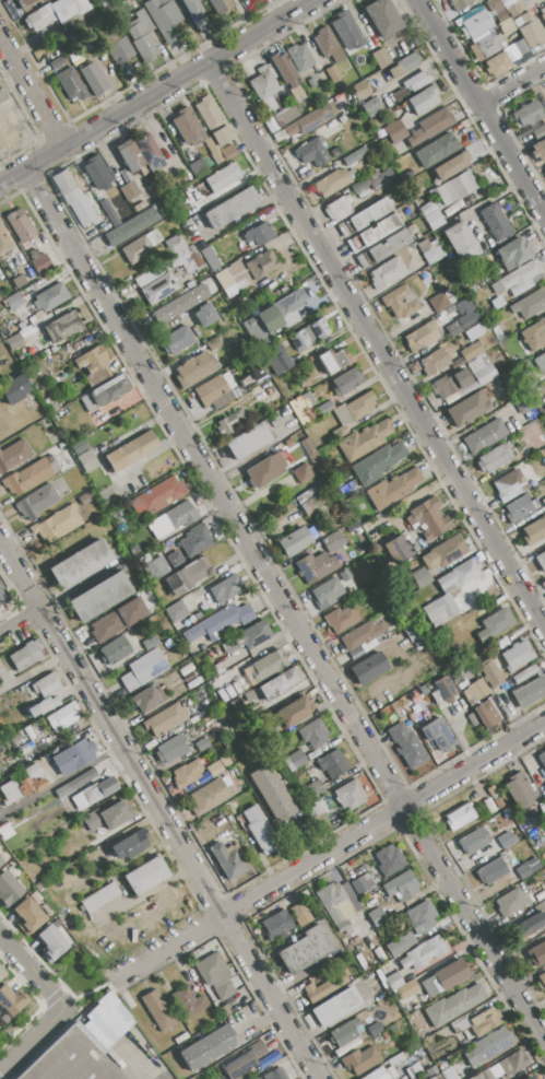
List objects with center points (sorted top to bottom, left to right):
building: (242, 0)
building: (487, 0)
building: (26, 3)
building: (459, 4)
building: (221, 5)
building: (494, 5)
building: (191, 8)
building: (513, 10)
building: (543, 13)
building: (48, 14)
building: (164, 17)
building: (382, 17)
building: (474, 23)
building: (506, 26)
building: (346, 31)
building: (530, 33)
building: (140, 34)
building: (328, 45)
building: (489, 45)
building: (520, 47)
building: (392, 50)
building: (120, 54)
building: (299, 57)
building: (381, 58)
building: (57, 62)
building: (498, 63)
building: (404, 64)
building: (284, 69)
building: (93, 79)
building: (417, 81)
building: (71, 84)
road: (513, 87)
building: (263, 89)
building: (360, 90)
road: (33, 92)
building: (297, 93)
road: (157, 94)
building: (399, 95)
building: (420, 101)
road: (482, 106)
building: (372, 107)
building: (528, 114)
building: (286, 116)
building: (309, 120)
building: (436, 121)
building: (187, 127)
building: (215, 131)
building: (395, 131)
building: (5, 132)
building: (523, 132)
building: (538, 133)
building: (415, 137)
building: (436, 150)
building: (538, 150)
building: (312, 152)
building: (140, 154)
building: (351, 159)
building: (451, 165)
building: (544, 169)
building: (97, 174)
building: (223, 177)
building: (332, 183)
building: (376, 184)
building: (359, 186)
building: (455, 187)
building: (132, 196)
building: (73, 198)
building: (230, 208)
building: (339, 208)
building: (428, 209)
building: (451, 209)
building: (109, 212)
building: (364, 216)
building: (435, 220)
building: (495, 222)
building: (21, 224)
building: (131, 226)
building: (412, 230)
building: (372, 233)
building: (257, 235)
building: (4, 242)
building: (461, 243)
building: (175, 244)
building: (140, 247)
building: (382, 248)
building: (414, 250)
building: (513, 253)
building: (433, 255)
building: (209, 258)
building: (40, 263)
building: (261, 265)
building: (386, 272)
building: (521, 278)
building: (233, 279)
building: (20, 281)
building: (141, 281)
building: (158, 289)
building: (50, 297)
building: (13, 301)
building: (399, 302)
building: (439, 303)
building: (180, 304)
building: (530, 304)
building: (281, 313)
building: (204, 315)
building: (469, 318)
building: (453, 329)
building: (56, 330)
building: (253, 330)
building: (471, 332)
building: (309, 335)
building: (534, 336)
building: (420, 337)
building: (176, 340)
building: (15, 341)
building: (213, 344)
road: (377, 348)
building: (474, 350)
building: (92, 359)
building: (333, 360)
building: (434, 361)
building: (282, 362)
building: (457, 363)
building: (541, 363)
building: (194, 370)
building: (254, 370)
building: (482, 372)
building: (303, 382)
building: (346, 382)
building: (449, 383)
building: (13, 389)
building: (214, 389)
building: (106, 391)
building: (524, 404)
building: (470, 407)
building: (303, 408)
building: (325, 408)
building: (354, 409)
building: (228, 424)
building: (339, 432)
building: (484, 436)
building: (365, 439)
building: (248, 441)
building: (138, 447)
road: (254, 450)
building: (13, 455)
building: (494, 458)
building: (86, 461)
building: (378, 464)
building: (264, 470)
building: (303, 473)
building: (28, 477)
building: (509, 485)
building: (392, 489)
building: (158, 496)
building: (84, 497)
building: (36, 502)
building: (543, 502)
building: (312, 506)
building: (520, 508)
building: (173, 518)
building: (428, 519)
building: (57, 524)
building: (126, 528)
building: (534, 531)
building: (196, 541)
building: (295, 541)
building: (333, 541)
building: (396, 549)
building: (443, 553)
building: (174, 558)
building: (541, 561)
building: (80, 563)
building: (156, 566)
building: (316, 567)
building: (459, 574)
building: (188, 576)
building: (422, 577)
building: (543, 583)
building: (227, 589)
building: (327, 593)
building: (3, 595)
building: (100, 597)
road: (285, 607)
building: (440, 609)
building: (131, 611)
building: (177, 611)
building: (341, 618)
building: (218, 622)
road: (21, 623)
building: (494, 623)
building: (105, 629)
building: (412, 633)
building: (254, 634)
building: (364, 634)
building: (150, 642)
building: (116, 650)
building: (26, 655)
building: (517, 655)
building: (268, 662)
building: (368, 668)
building: (143, 669)
building: (489, 673)
building: (525, 673)
building: (280, 682)
building: (46, 685)
building: (475, 689)
building: (442, 690)
building: (529, 692)
building: (146, 700)
building: (295, 712)
building: (482, 715)
building: (62, 717)
building: (165, 719)
building: (313, 734)
building: (438, 735)
building: (201, 744)
building: (406, 744)
building: (170, 748)
building: (29, 754)
road: (355, 754)
building: (72, 757)
building: (542, 758)
building: (297, 759)
building: (225, 760)
building: (333, 763)
building: (214, 769)
building: (33, 771)
building: (187, 773)
road: (66, 779)
building: (81, 779)
building: (107, 786)
building: (316, 788)
building: (19, 789)
building: (271, 790)
building: (519, 791)
building: (349, 795)
building: (210, 796)
building: (80, 801)
building: (317, 806)
road: (161, 808)
building: (108, 816)
building: (459, 817)
building: (226, 829)
building: (260, 830)
building: (472, 841)
building: (500, 844)
building: (133, 845)
road: (330, 853)
building: (222, 858)
building: (0, 860)
building: (389, 860)
building: (0, 863)
building: (490, 871)
building: (523, 871)
building: (145, 875)
building: (362, 884)
building: (402, 887)
building: (8, 889)
building: (100, 898)
building: (510, 902)
building: (335, 906)
building: (542, 907)
building: (299, 911)
building: (27, 915)
building: (422, 916)
building: (376, 917)
building: (277, 925)
building: (529, 925)
building: (51, 943)
building: (400, 943)
building: (378, 947)
building: (423, 953)
building: (536, 953)
building: (297, 954)
road: (32, 969)
building: (2, 972)
building: (214, 975)
park: (81, 977)
building: (446, 977)
building: (542, 980)
building: (393, 981)
building: (323, 987)
building: (408, 988)
road: (90, 994)
building: (11, 1000)
building: (188, 1002)
building: (453, 1005)
building: (334, 1007)
building: (156, 1010)
building: (223, 1011)
road: (344, 1016)
building: (485, 1021)
building: (375, 1029)
building: (344, 1032)
road: (34, 1041)
building: (206, 1046)
building: (488, 1046)
road: (129, 1055)
building: (244, 1059)
building: (396, 1059)
building: (71, 1060)
building: (360, 1060)
building: (502, 1067)
building: (413, 1070)
building: (431, 1071)
building: (275, 1074)
building: (380, 1074)
building: (448, 1074)
building: (436, 1077)
building: (531, 1077)
building: (248, 1078)

